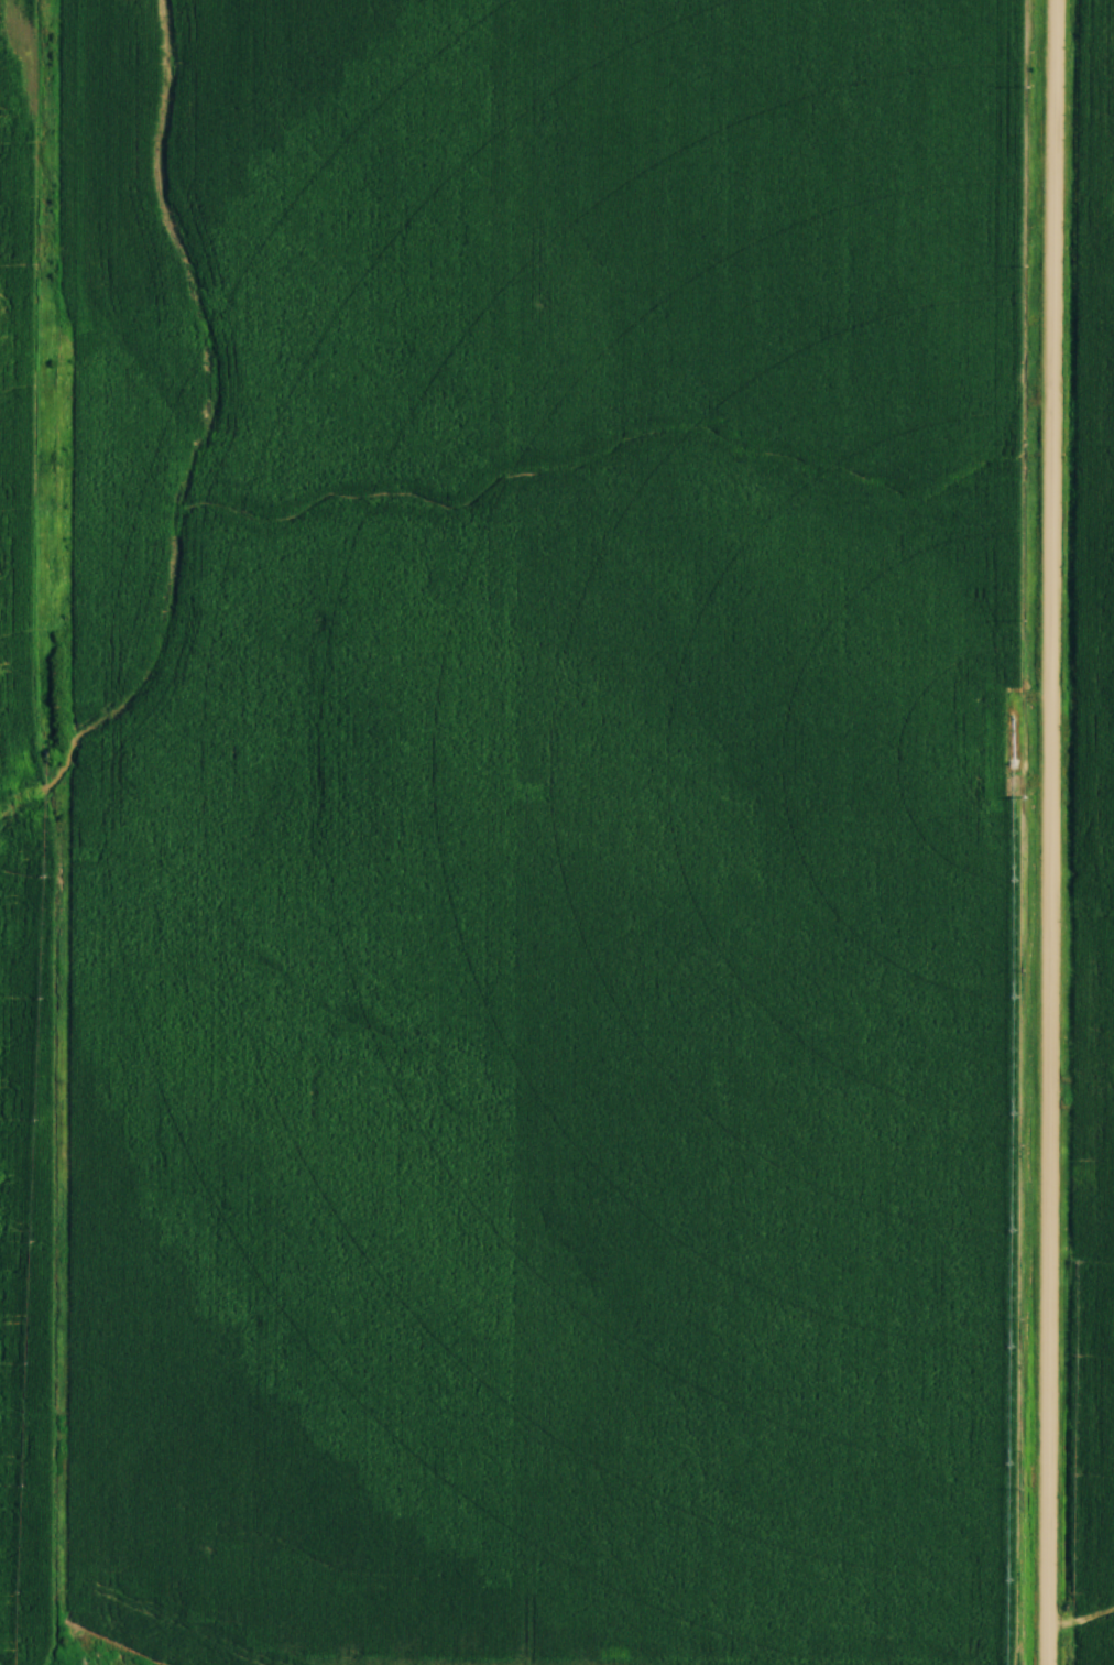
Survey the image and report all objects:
road: (1048, 831)

